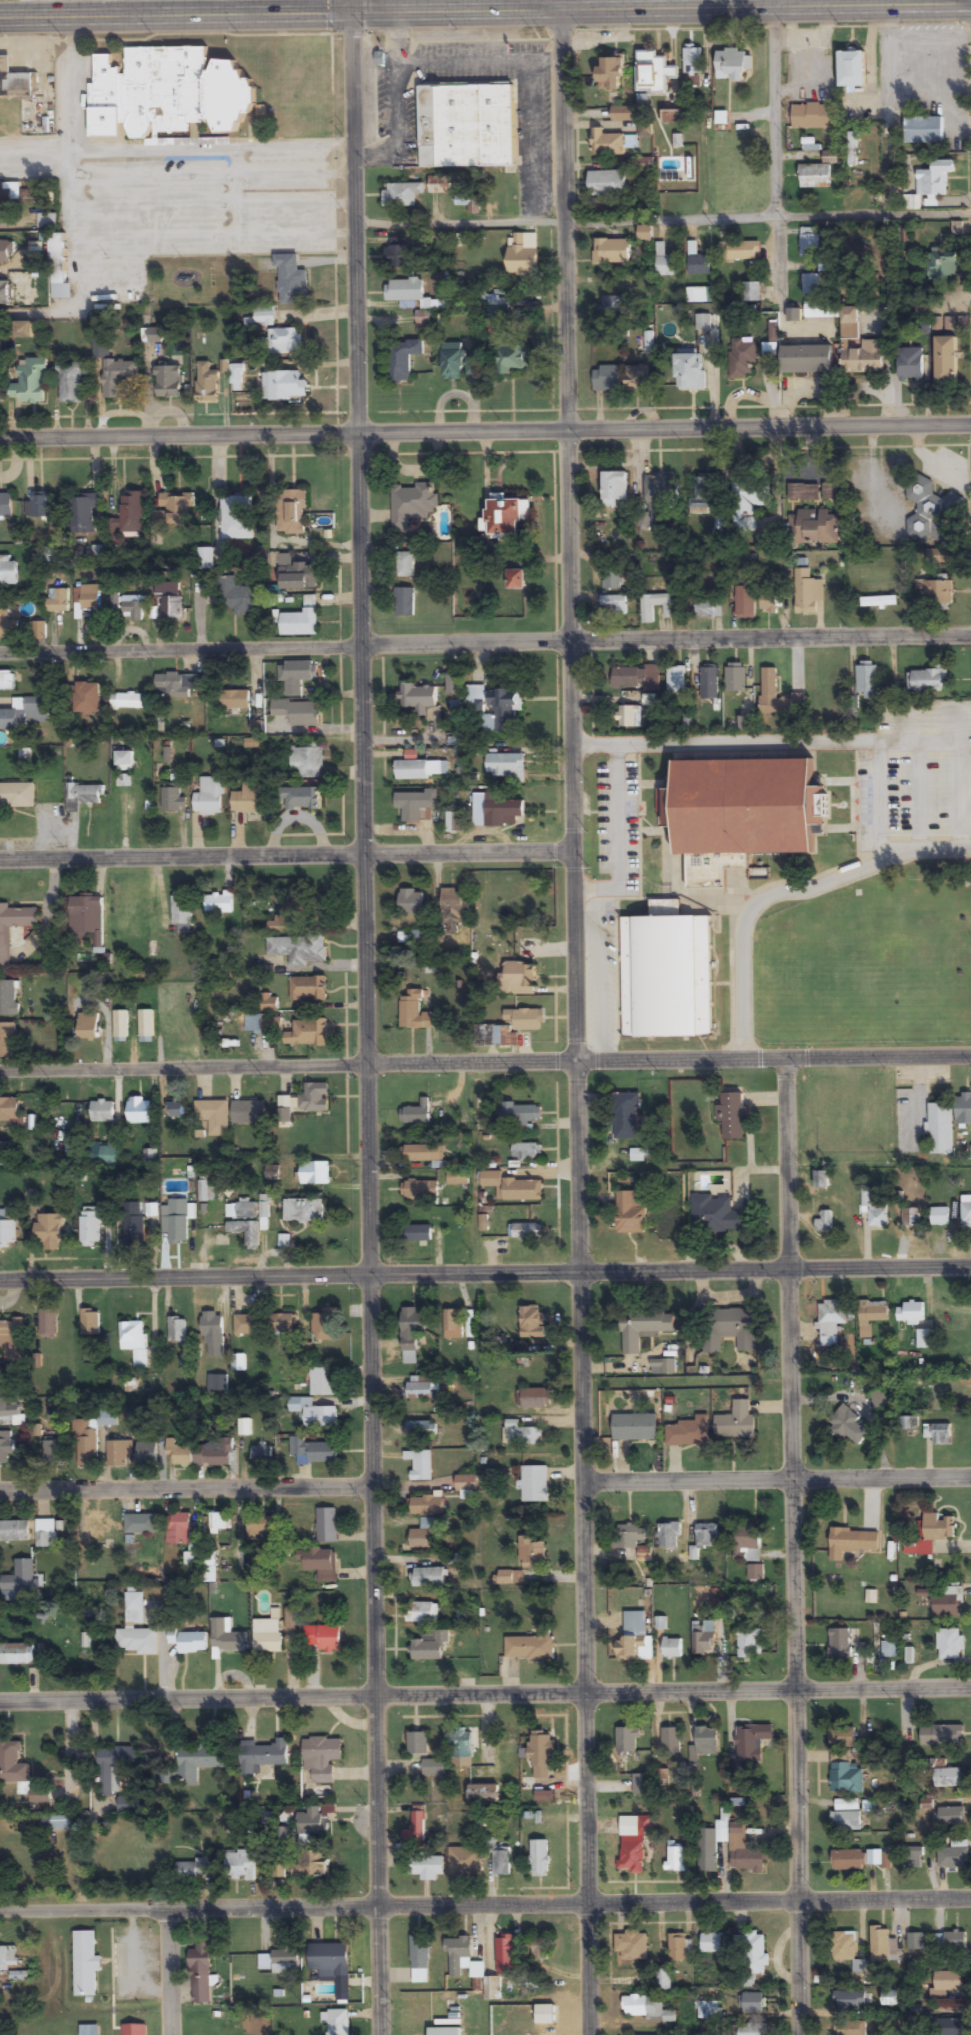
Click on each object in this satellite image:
road: (139, 6)
road: (437, 6)
building: (692, 61)
building: (732, 63)
building: (852, 69)
building: (653, 72)
building: (610, 75)
building: (14, 79)
building: (299, 79)
building: (167, 94)
building: (0, 112)
building: (812, 116)
building: (672, 117)
building: (466, 125)
building: (923, 131)
building: (607, 144)
road: (775, 149)
building: (852, 149)
building: (815, 176)
building: (607, 183)
building: (439, 185)
building: (930, 187)
building: (2, 195)
building: (401, 195)
road: (663, 220)
building: (47, 221)
building: (645, 234)
building: (809, 243)
building: (739, 251)
building: (6, 252)
building: (605, 253)
building: (522, 254)
building: (399, 255)
building: (57, 259)
building: (697, 262)
building: (665, 263)
building: (941, 264)
building: (620, 280)
building: (291, 281)
building: (811, 284)
building: (404, 290)
building: (752, 293)
building: (4, 294)
building: (699, 296)
building: (611, 305)
building: (497, 307)
building: (819, 310)
building: (794, 315)
building: (703, 323)
building: (923, 327)
building: (23, 330)
building: (154, 336)
building: (284, 342)
building: (859, 347)
building: (101, 348)
building: (770, 350)
building: (743, 355)
building: (402, 359)
building: (511, 359)
building: (806, 360)
building: (946, 361)
building: (455, 362)
building: (910, 365)
building: (689, 371)
building: (236, 376)
building: (636, 376)
building: (118, 378)
building: (607, 379)
building: (31, 383)
building: (168, 383)
building: (70, 384)
building: (206, 384)
building: (284, 387)
building: (1, 397)
road: (485, 432)
building: (615, 491)
building: (659, 491)
building: (803, 492)
building: (830, 492)
building: (702, 493)
building: (750, 497)
building: (412, 504)
building: (5, 505)
building: (41, 505)
building: (928, 509)
building: (175, 510)
building: (82, 513)
building: (131, 513)
building: (292, 513)
building: (506, 517)
building: (237, 519)
building: (813, 527)
building: (205, 559)
building: (405, 565)
building: (8, 574)
building: (295, 575)
building: (516, 581)
building: (612, 581)
building: (807, 592)
building: (938, 593)
building: (90, 598)
building: (238, 599)
building: (57, 601)
building: (170, 601)
building: (769, 601)
building: (879, 602)
building: (404, 603)
building: (745, 603)
building: (615, 604)
building: (709, 608)
building: (134, 609)
building: (647, 612)
building: (301, 621)
building: (8, 629)
road: (485, 648)
building: (295, 676)
building: (635, 677)
building: (735, 677)
building: (676, 679)
building: (866, 679)
building: (929, 679)
building: (7, 681)
building: (709, 682)
building: (453, 684)
building: (175, 686)
building: (772, 694)
building: (418, 697)
building: (87, 700)
building: (232, 700)
building: (650, 700)
building: (131, 701)
building: (492, 707)
building: (297, 712)
building: (26, 714)
building: (629, 716)
building: (124, 758)
building: (306, 761)
building: (506, 766)
building: (418, 769)
building: (17, 794)
building: (83, 796)
building: (211, 796)
building: (173, 798)
building: (302, 798)
building: (246, 799)
building: (414, 806)
building: (501, 809)
building: (739, 813)
building: (455, 822)
road: (485, 851)
building: (315, 902)
building: (410, 902)
building: (218, 903)
building: (452, 909)
building: (181, 913)
building: (128, 914)
building: (86, 915)
building: (278, 925)
building: (5, 949)
building: (298, 950)
building: (666, 976)
building: (517, 979)
building: (308, 989)
building: (8, 998)
building: (415, 1012)
road: (367, 1017)
road: (578, 1020)
building: (263, 1024)
building: (121, 1025)
building: (88, 1026)
building: (146, 1026)
building: (507, 1028)
building: (307, 1033)
building: (8, 1040)
road: (485, 1063)
building: (314, 1098)
building: (284, 1109)
building: (963, 1109)
building: (175, 1110)
building: (482, 1110)
building: (139, 1111)
building: (102, 1112)
building: (248, 1112)
building: (11, 1114)
building: (416, 1114)
building: (519, 1114)
building: (732, 1115)
building: (214, 1116)
building: (625, 1116)
building: (940, 1128)
building: (526, 1151)
building: (420, 1153)
building: (6, 1154)
building: (150, 1158)
building: (314, 1173)
building: (457, 1179)
building: (821, 1179)
building: (513, 1187)
building: (420, 1189)
building: (206, 1191)
building: (303, 1210)
building: (875, 1210)
building: (629, 1212)
building: (966, 1212)
building: (715, 1213)
building: (940, 1216)
building: (911, 1217)
building: (175, 1221)
building: (824, 1222)
building: (93, 1225)
building: (49, 1231)
building: (133, 1231)
building: (246, 1232)
building: (525, 1232)
building: (418, 1233)
building: (7, 1234)
road: (485, 1269)
building: (910, 1313)
building: (871, 1316)
building: (831, 1317)
building: (48, 1322)
building: (89, 1322)
building: (532, 1322)
building: (281, 1323)
building: (248, 1325)
building: (453, 1325)
building: (323, 1327)
building: (644, 1328)
building: (729, 1329)
building: (177, 1331)
building: (412, 1333)
building: (213, 1334)
building: (11, 1335)
building: (923, 1339)
building: (134, 1341)
building: (502, 1342)
building: (239, 1363)
building: (663, 1366)
building: (323, 1381)
road: (686, 1381)
building: (217, 1383)
building: (421, 1387)
building: (534, 1398)
building: (879, 1399)
building: (11, 1412)
building: (314, 1413)
building: (107, 1418)
building: (736, 1422)
building: (847, 1426)
building: (634, 1427)
building: (421, 1430)
building: (689, 1432)
building: (521, 1434)
building: (941, 1434)
building: (86, 1444)
building: (5, 1448)
building: (314, 1450)
building: (53, 1452)
building: (178, 1452)
building: (118, 1453)
building: (212, 1453)
building: (146, 1454)
building: (262, 1455)
building: (422, 1466)
road: (777, 1478)
building: (466, 1483)
building: (534, 1484)
road: (187, 1487)
building: (425, 1506)
building: (137, 1524)
building: (327, 1525)
building: (99, 1526)
building: (260, 1526)
building: (219, 1530)
building: (14, 1531)
building: (932, 1534)
building: (668, 1535)
building: (628, 1536)
building: (707, 1536)
building: (747, 1538)
building: (183, 1539)
building: (423, 1539)
building: (46, 1540)
building: (852, 1542)
road: (791, 1547)
building: (531, 1550)
building: (320, 1563)
building: (210, 1570)
building: (756, 1572)
building: (429, 1577)
building: (510, 1578)
building: (19, 1582)
building: (946, 1601)
building: (421, 1612)
building: (292, 1626)
building: (136, 1630)
building: (267, 1636)
building: (632, 1637)
building: (704, 1637)
building: (226, 1638)
building: (322, 1638)
building: (750, 1642)
building: (192, 1643)
building: (842, 1643)
building: (949, 1646)
building: (530, 1647)
building: (430, 1648)
building: (672, 1648)
building: (890, 1649)
building: (16, 1655)
road: (485, 1699)
building: (942, 1735)
building: (842, 1738)
building: (671, 1741)
building: (705, 1742)
building: (751, 1742)
building: (463, 1743)
building: (626, 1743)
building: (417, 1744)
building: (261, 1757)
building: (539, 1757)
building: (321, 1758)
building: (196, 1762)
building: (14, 1767)
building: (116, 1767)
building: (433, 1768)
building: (948, 1777)
building: (845, 1778)
building: (641, 1784)
building: (483, 1794)
building: (128, 1805)
building: (846, 1815)
building: (950, 1817)
building: (313, 1822)
building: (56, 1823)
building: (645, 1825)
building: (416, 1830)
building: (711, 1846)
building: (745, 1852)
building: (954, 1855)
building: (675, 1856)
building: (630, 1857)
building: (914, 1857)
building: (539, 1858)
building: (848, 1859)
building: (465, 1861)
building: (501, 1862)
building: (309, 1865)
building: (240, 1866)
building: (428, 1867)
building: (194, 1872)
road: (485, 1905)
building: (955, 1941)
building: (916, 1942)
building: (712, 1943)
building: (632, 1946)
building: (844, 1946)
building: (882, 1946)
building: (677, 1948)
building: (540, 1950)
building: (752, 1957)
building: (7, 1958)
building: (462, 1958)
building: (419, 1959)
building: (285, 1962)
building: (85, 1964)
building: (332, 1965)
building: (502, 1965)
road: (175, 1972)
building: (200, 1973)
building: (664, 1980)
building: (948, 1982)
building: (890, 1998)
building: (849, 2000)
building: (752, 2003)
building: (647, 2008)
building: (706, 2010)
building: (336, 2022)
building: (949, 2027)
building: (851, 2028)
building: (134, 2029)
building: (750, 2029)
building: (89, 2030)
building: (444, 2031)

